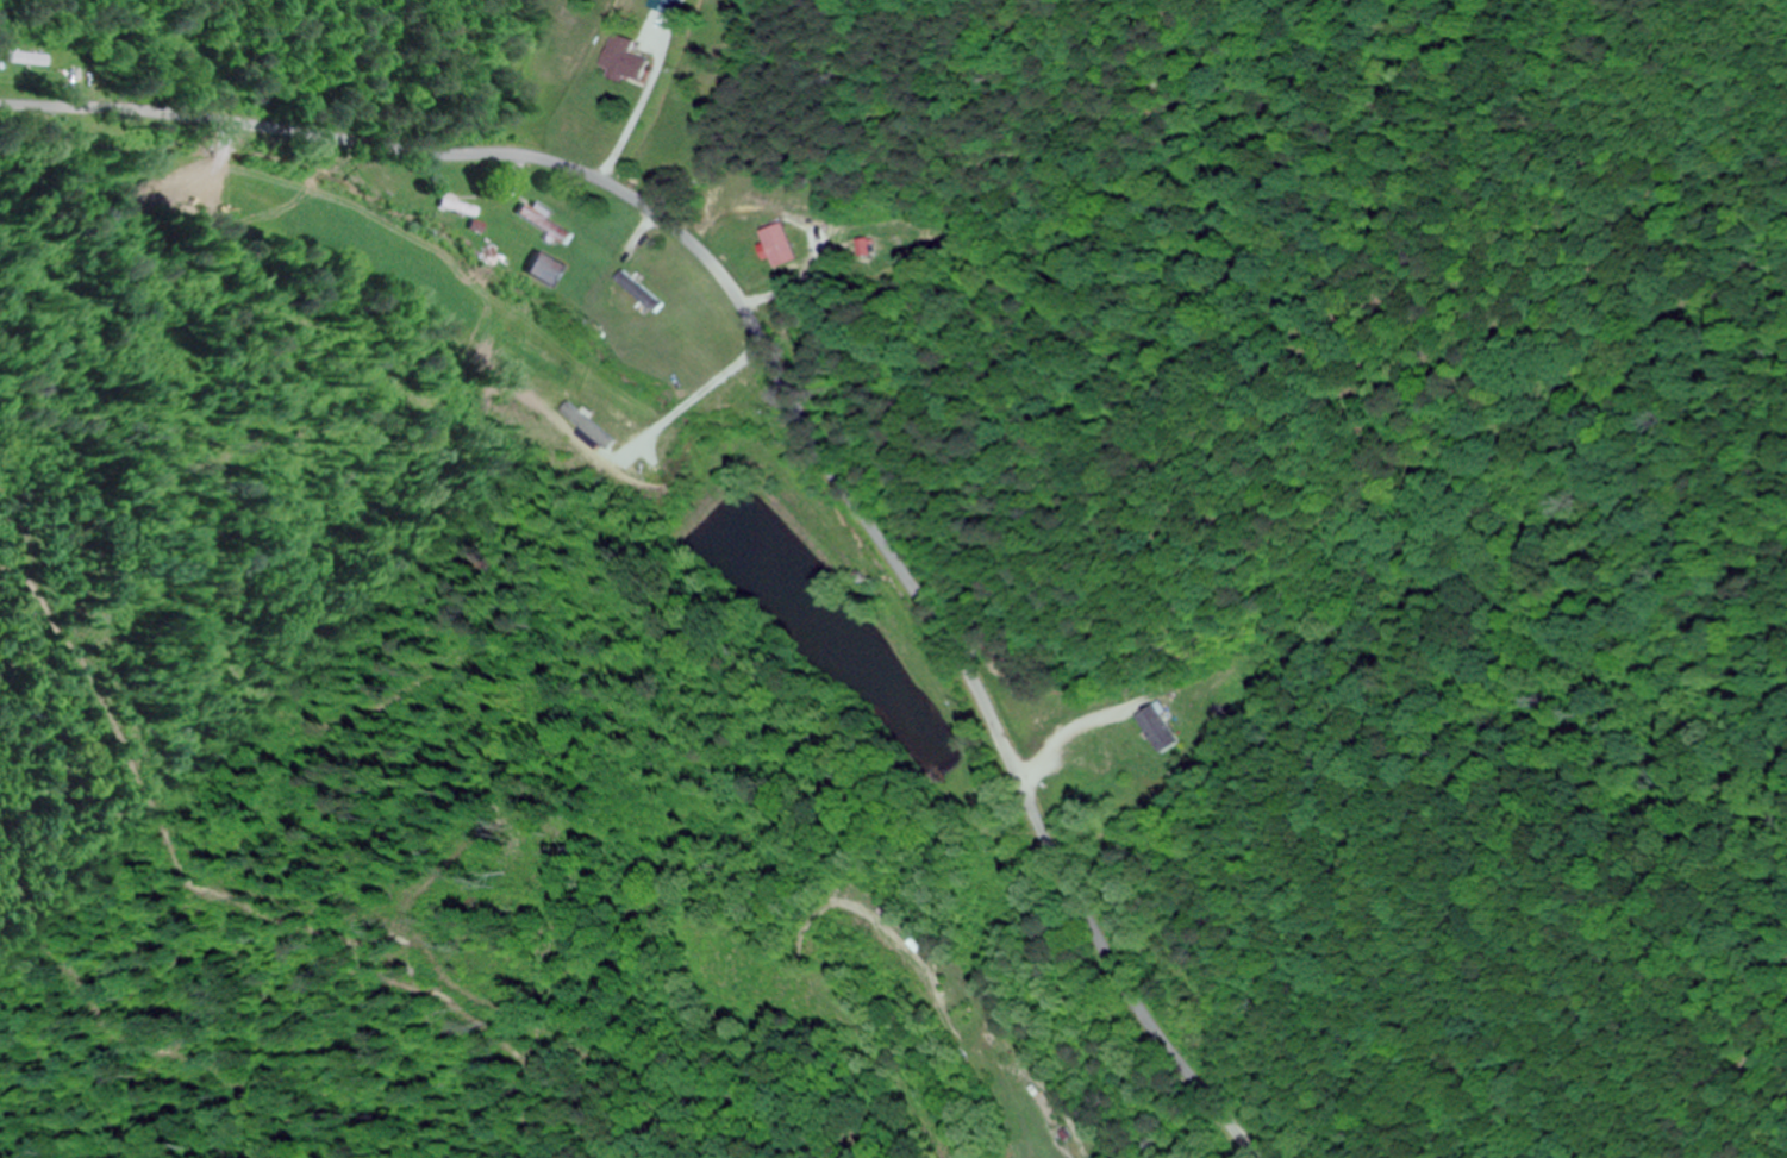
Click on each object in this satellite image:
building: (27, 60)
building: (623, 60)
building: (456, 207)
building: (543, 223)
building: (776, 245)
building: (862, 248)
building: (546, 270)
building: (641, 293)
road: (782, 398)
building: (1156, 730)

